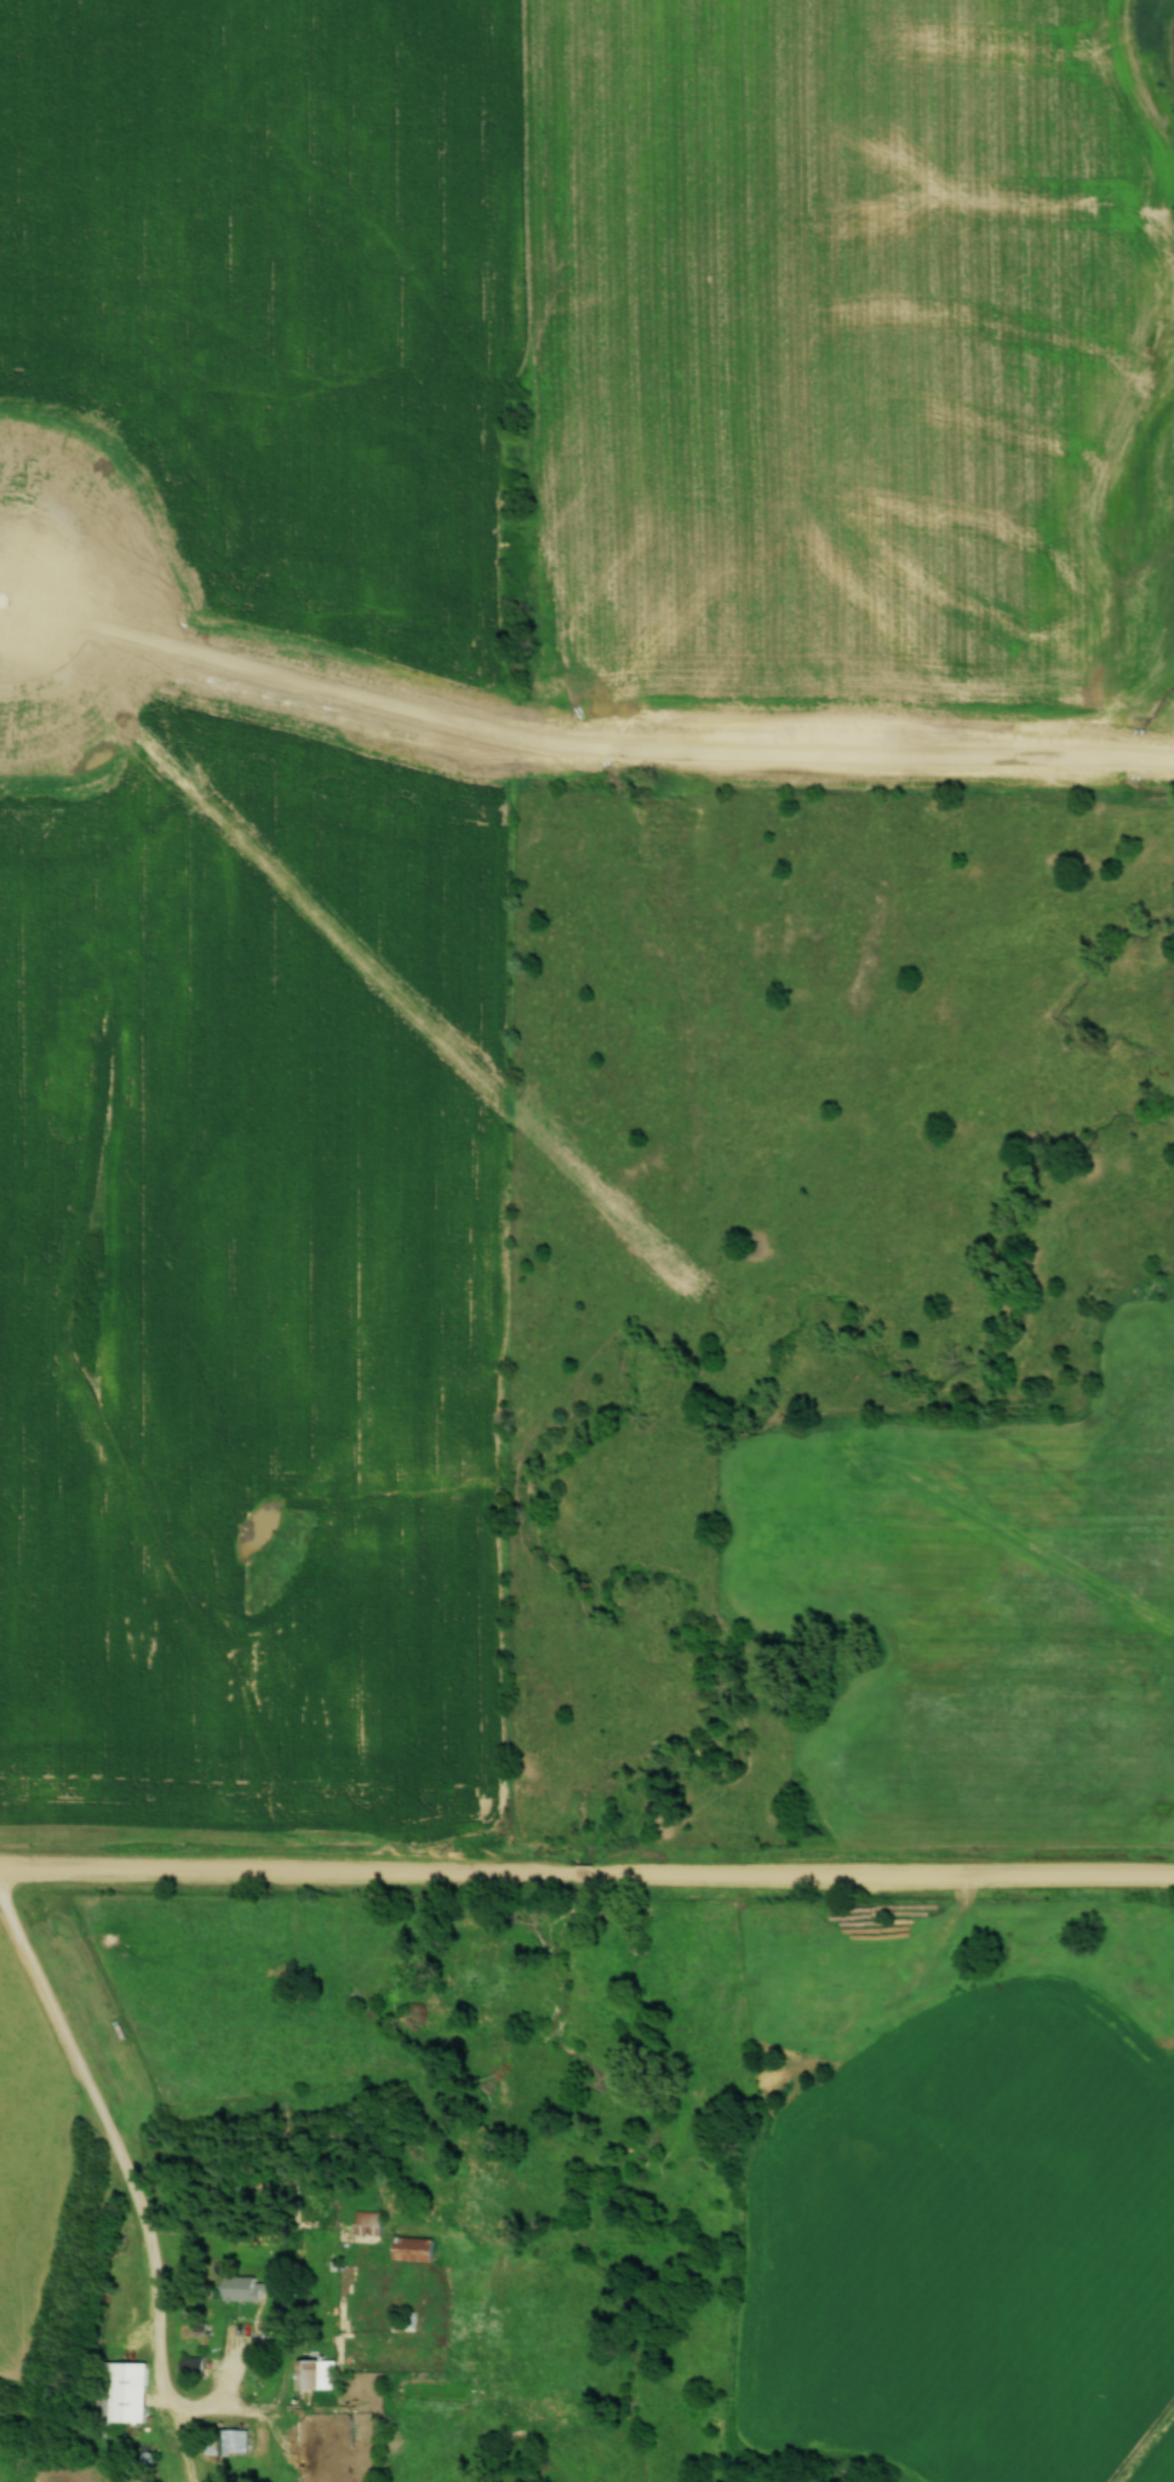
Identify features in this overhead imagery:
road: (586, 1874)
road: (128, 2185)
building: (370, 2221)
building: (412, 2248)
building: (241, 2287)
building: (187, 2366)
building: (315, 2374)
building: (118, 2395)
building: (225, 2442)

